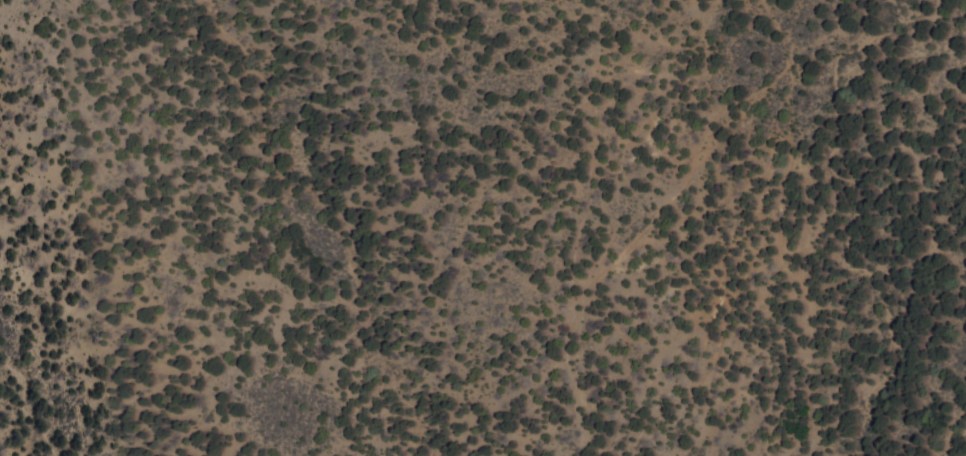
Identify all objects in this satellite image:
road: (823, 22)
road: (721, 250)

